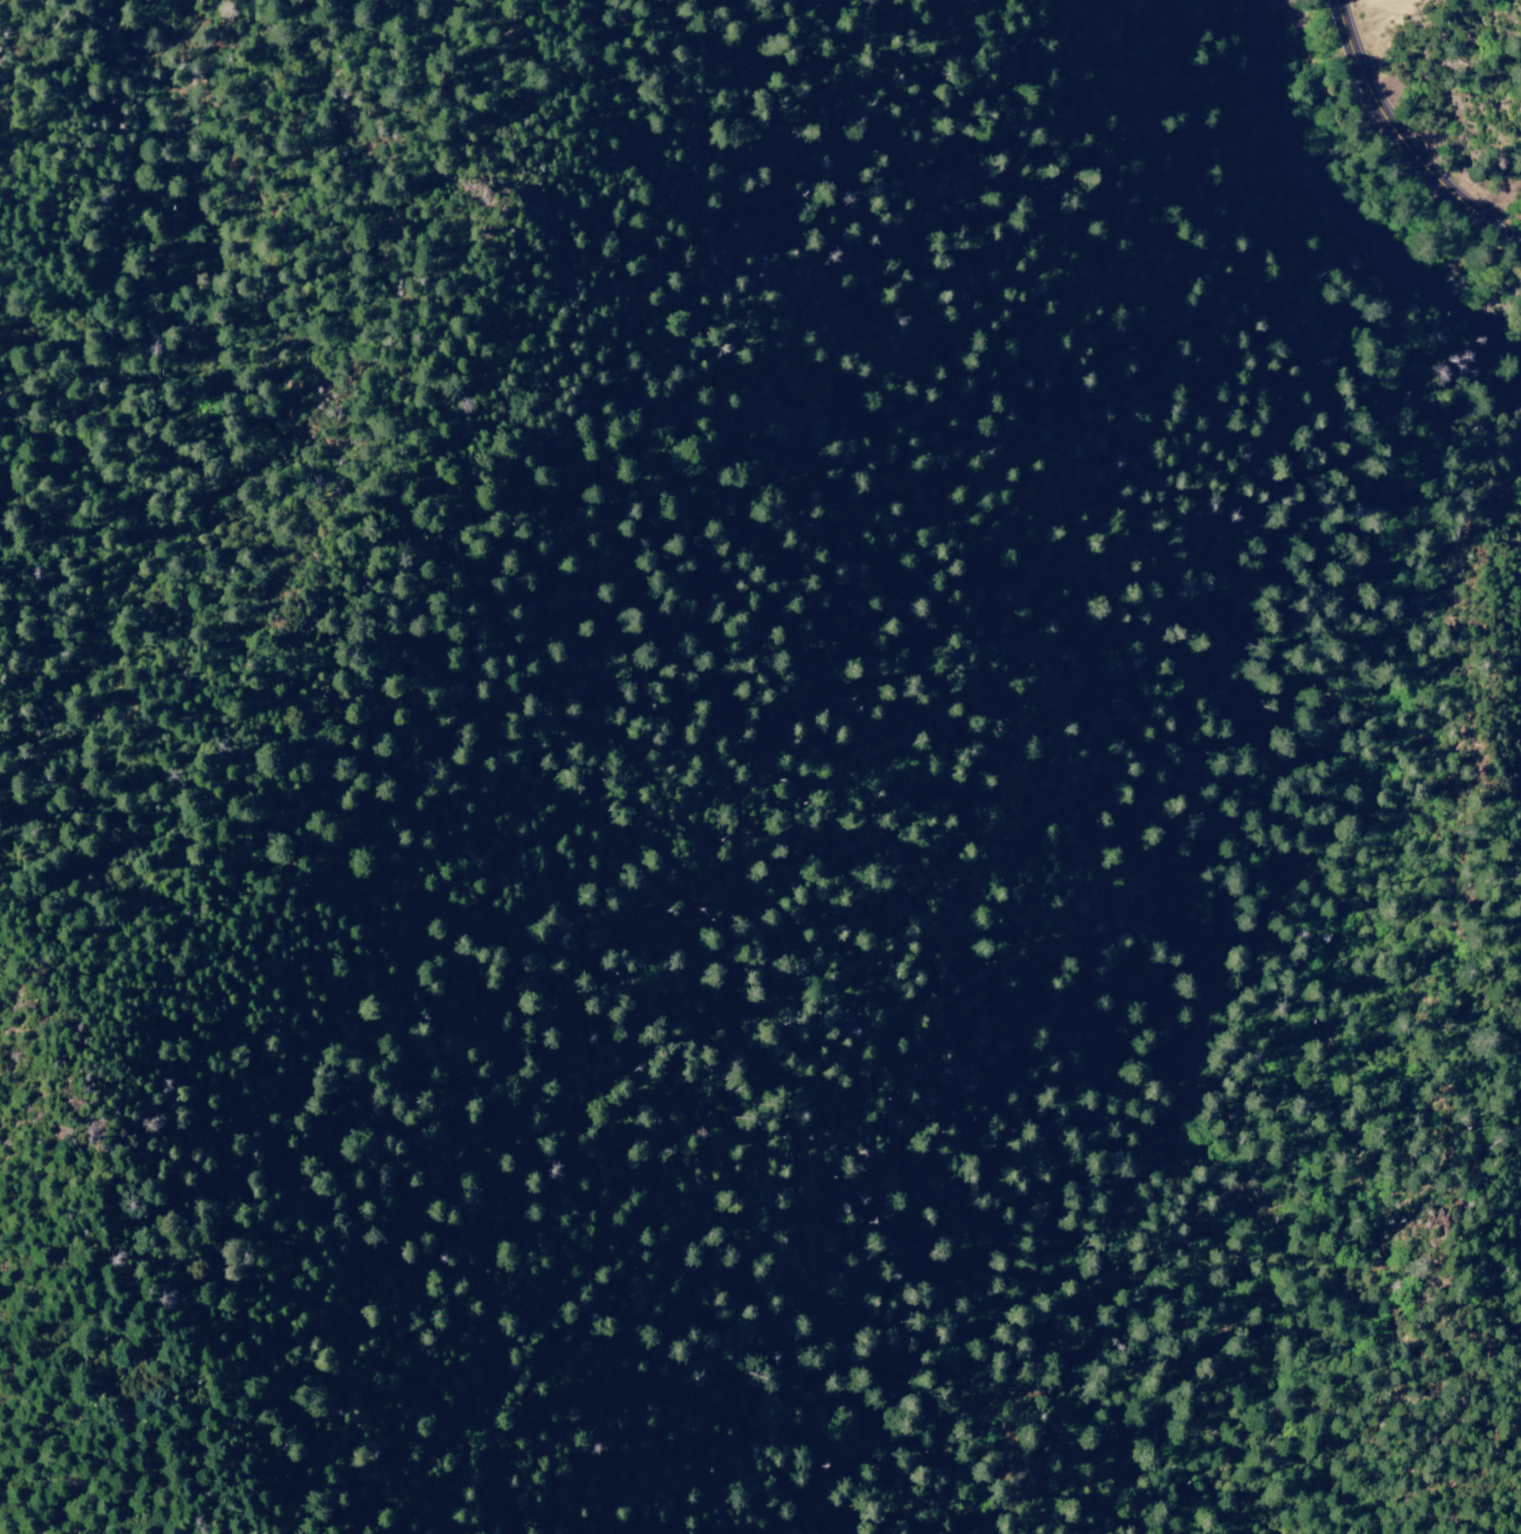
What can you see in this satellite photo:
road: (1408, 138)
river: (1325, 146)
river: (1477, 317)

